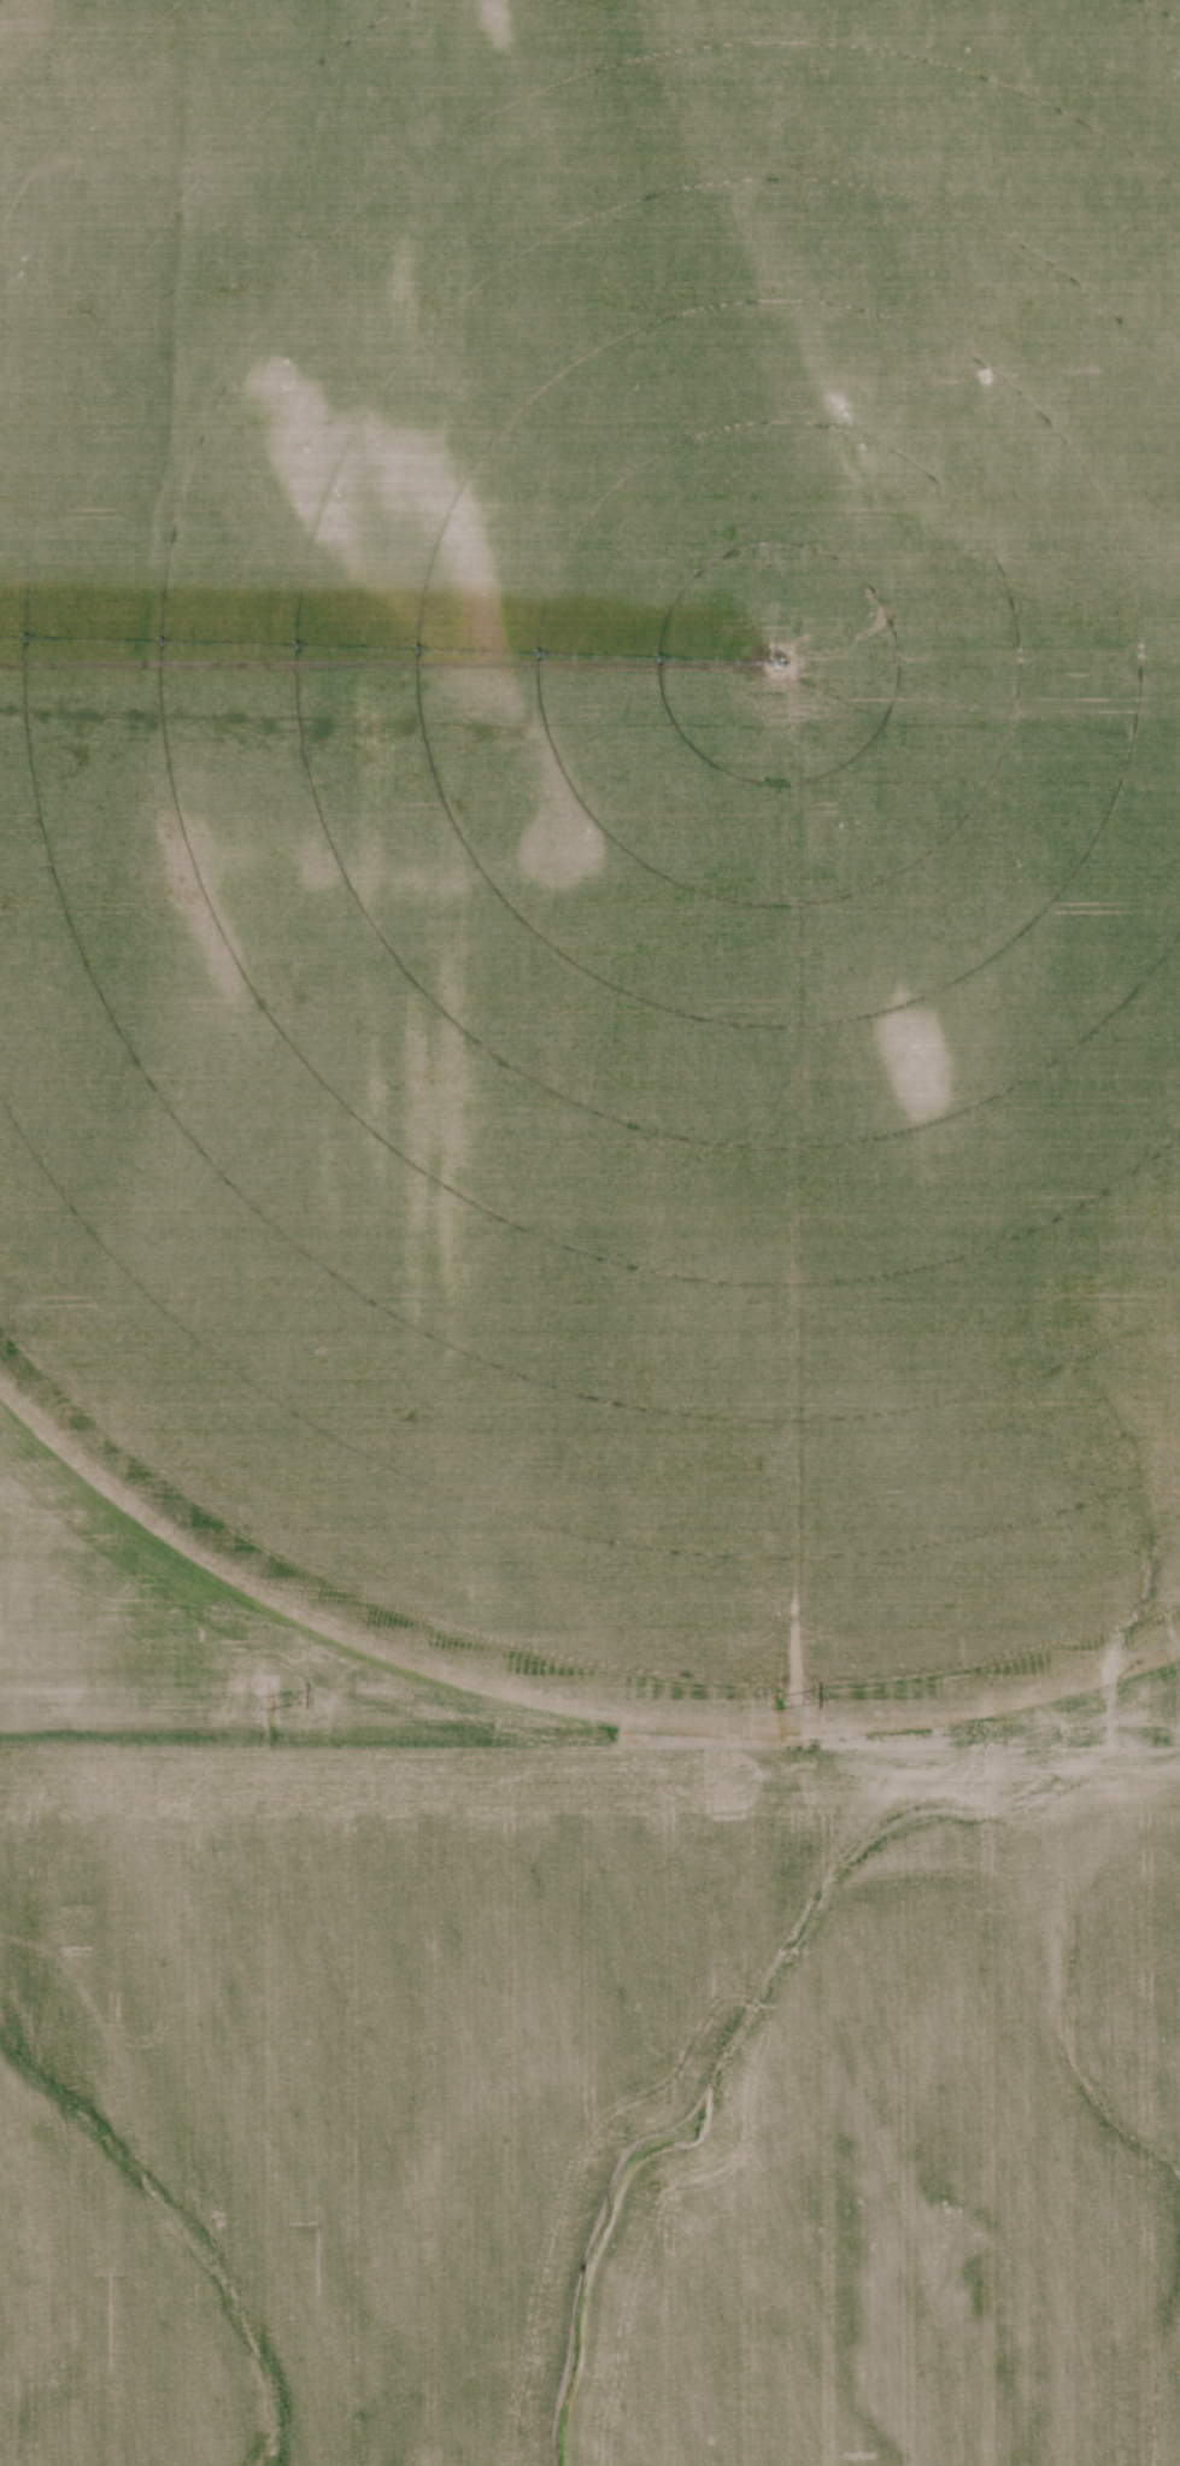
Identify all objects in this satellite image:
power tower: (275, 1701)
power tower: (781, 1703)

